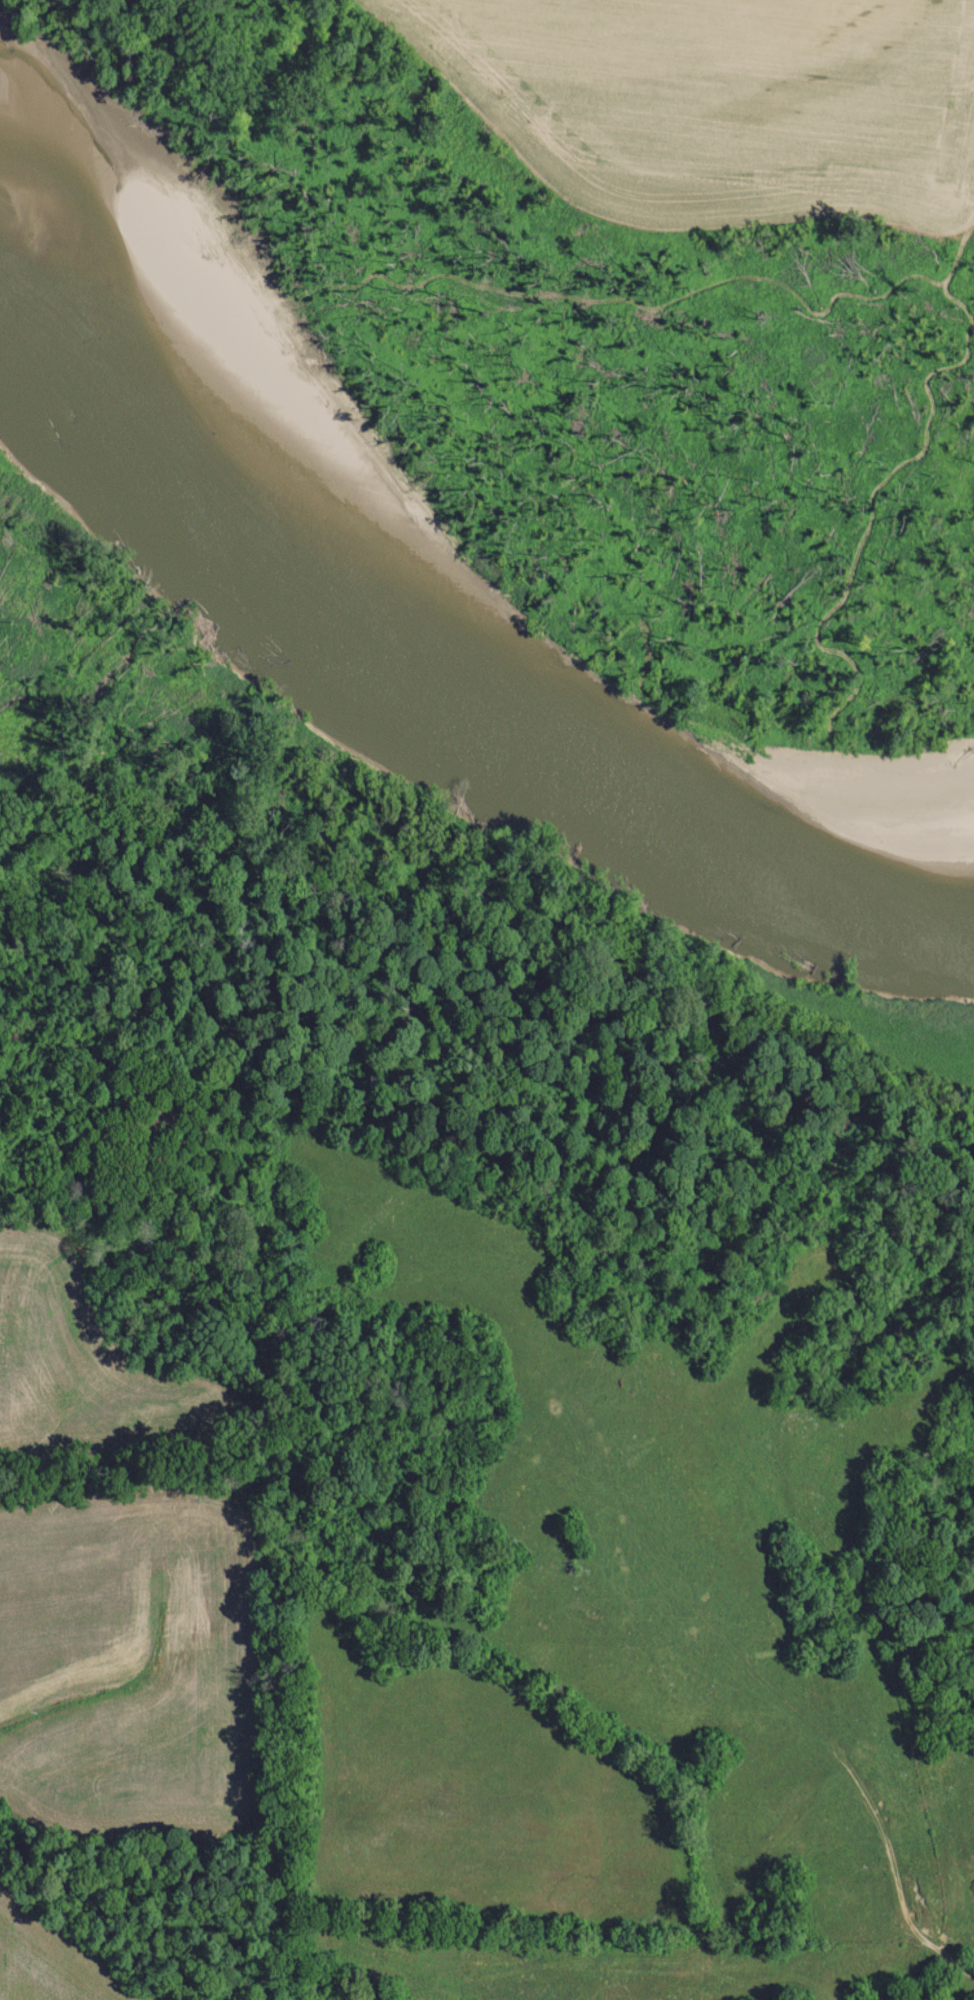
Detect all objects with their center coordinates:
river: (403, 631)

